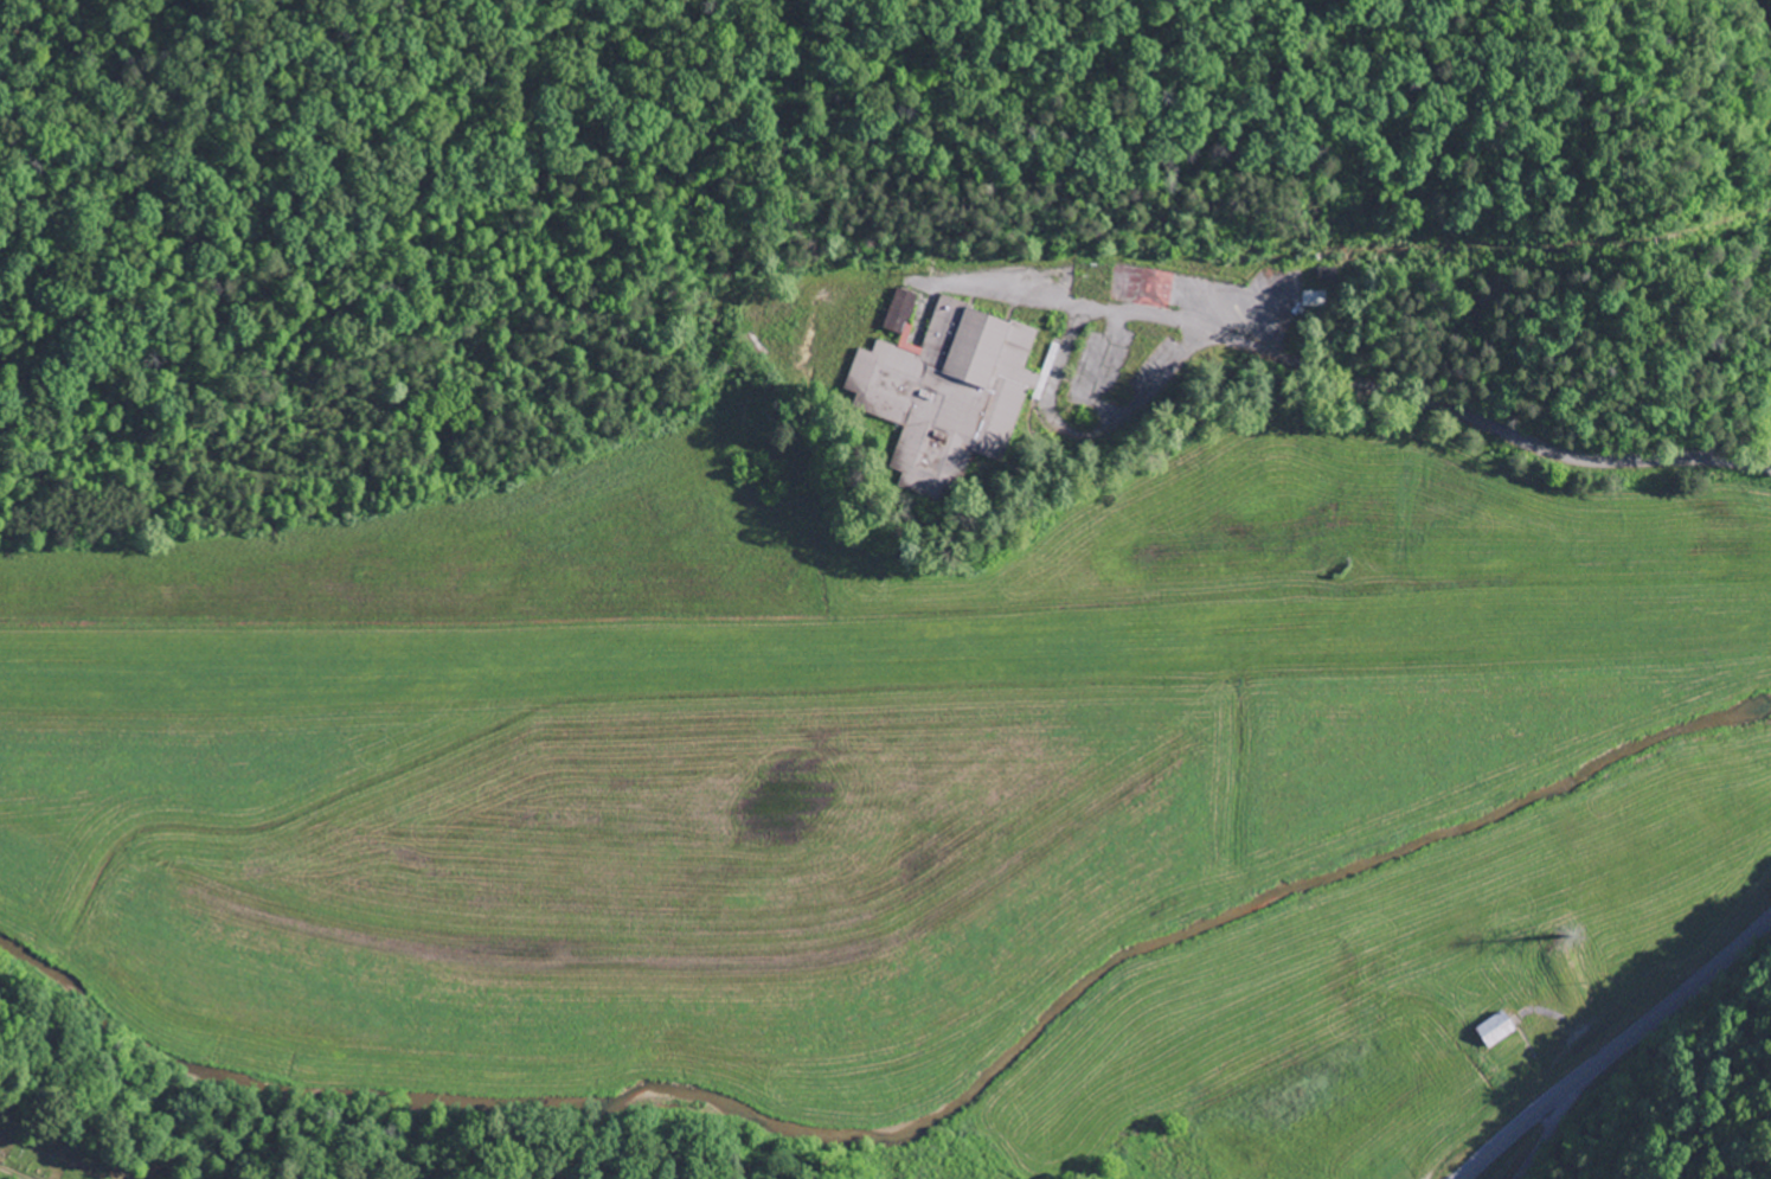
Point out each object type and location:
road: (1756, 25)
building: (901, 312)
road: (1166, 316)
road: (1117, 421)
road: (1509, 438)
road: (1677, 999)
building: (1501, 1030)
road: (1522, 1126)
road: (1548, 1128)
park: (120, 1142)

